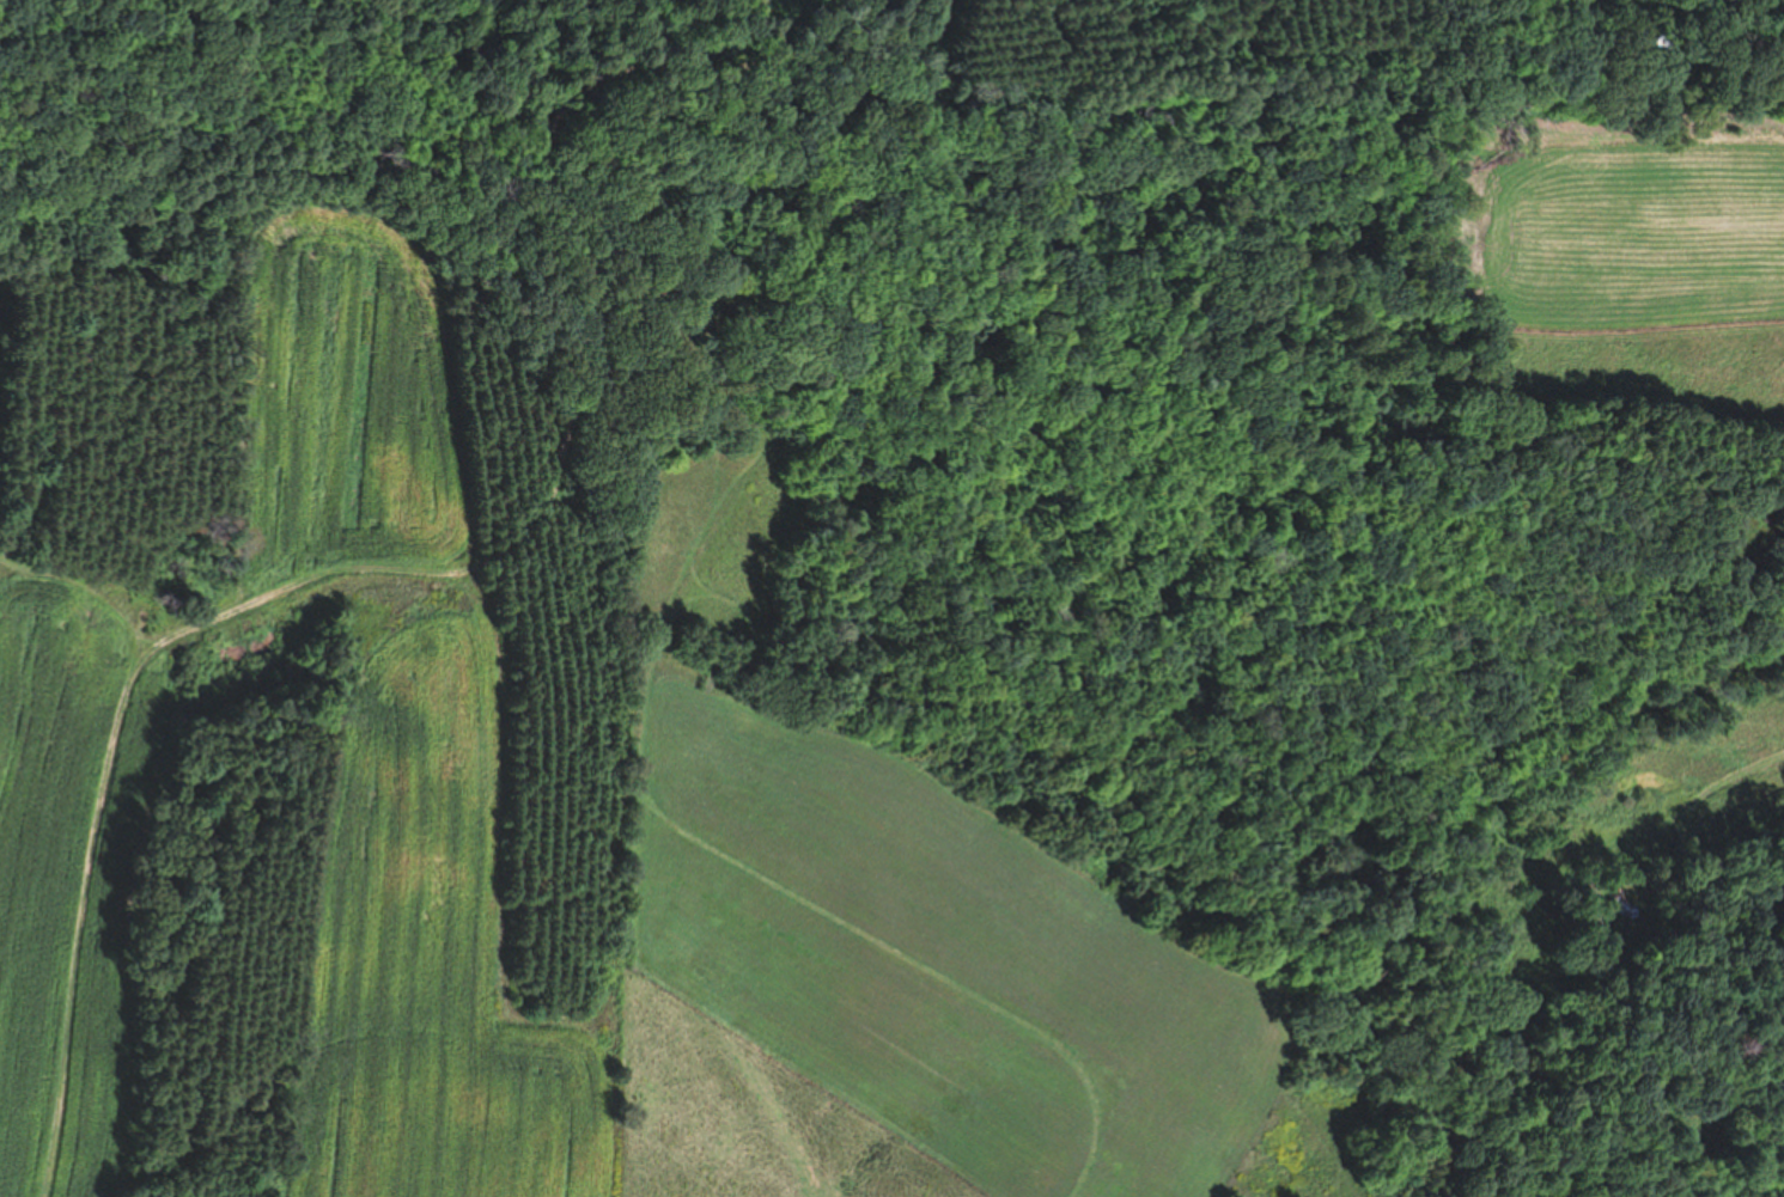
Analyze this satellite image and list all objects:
road: (123, 884)

